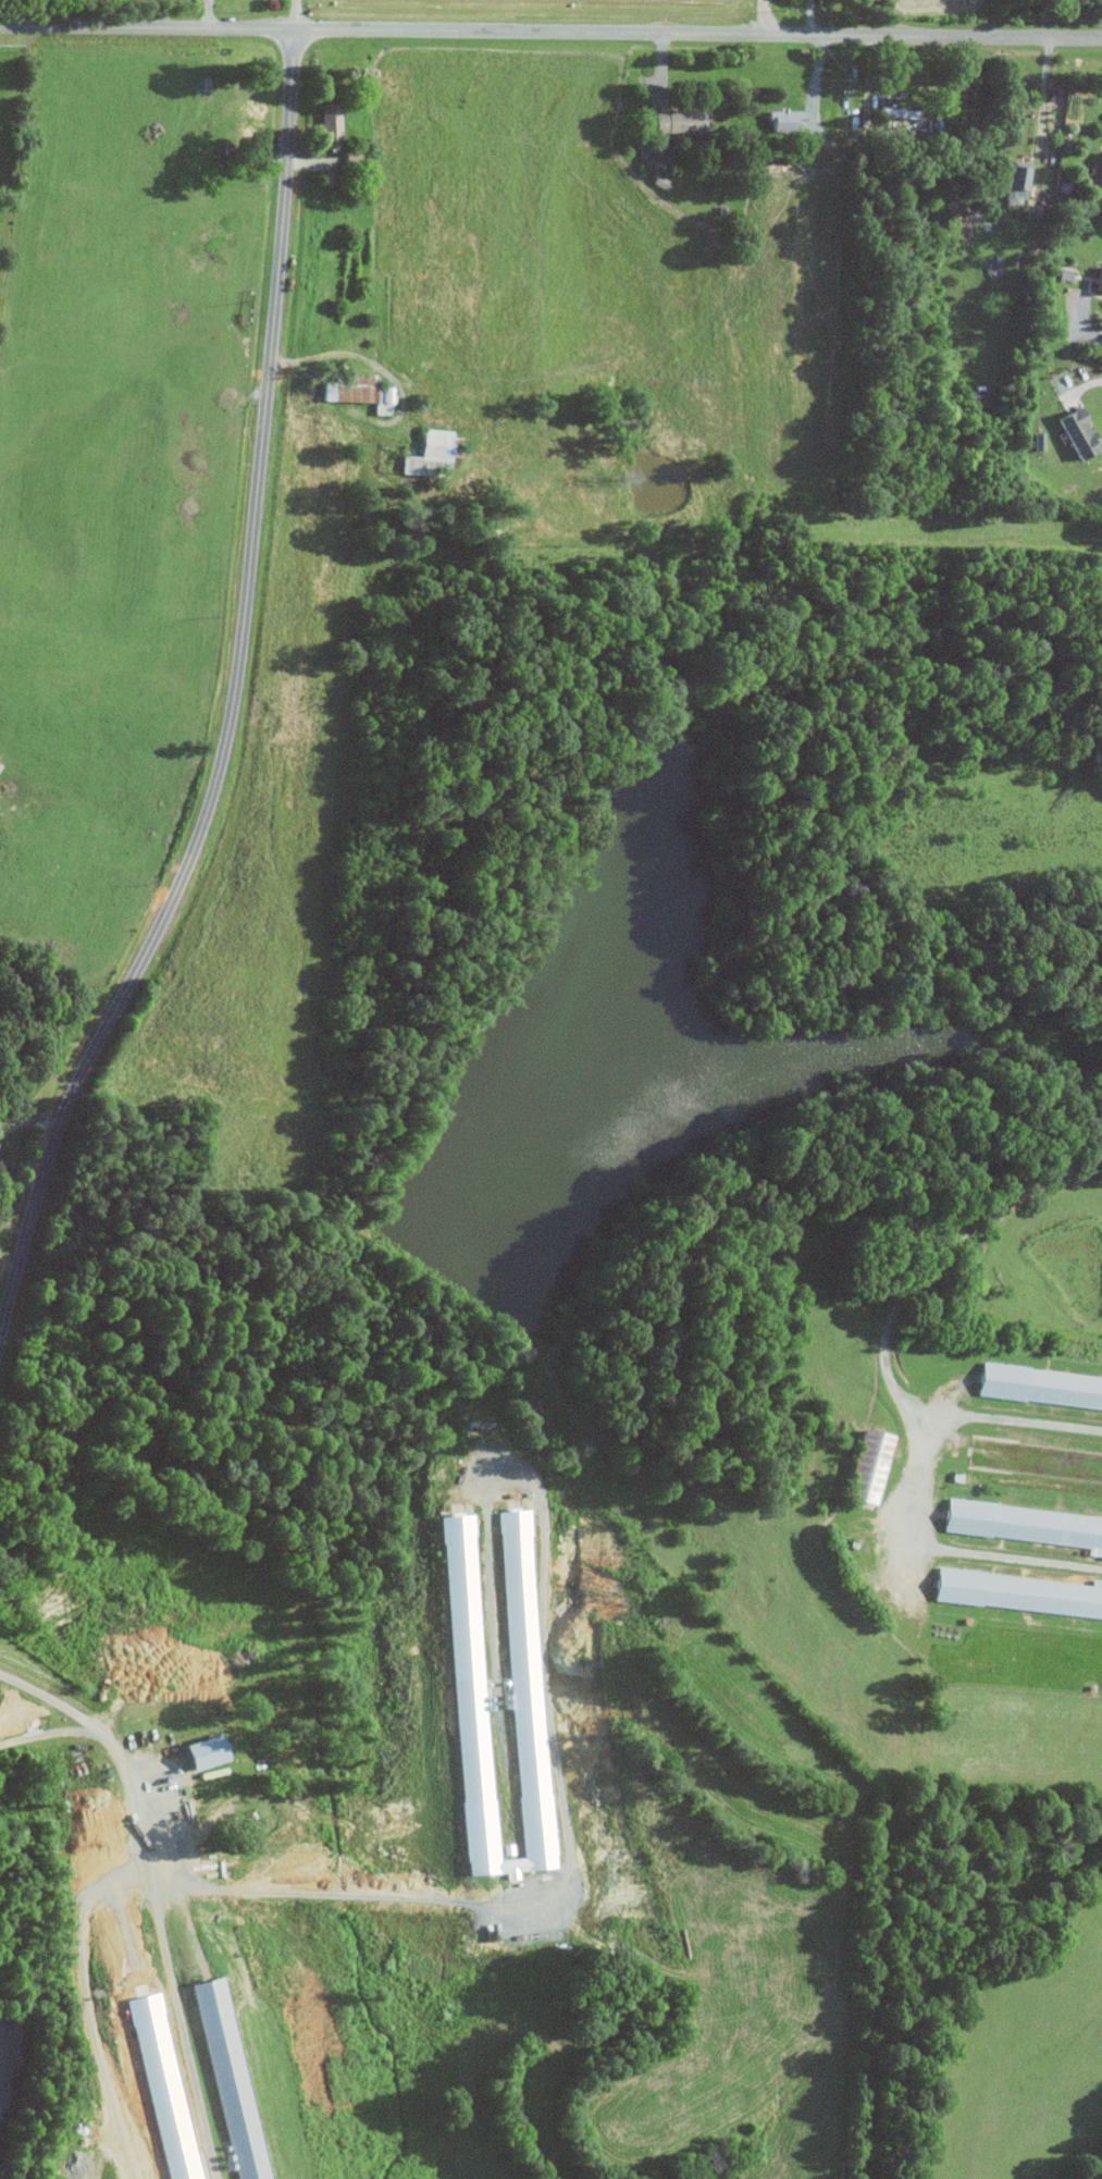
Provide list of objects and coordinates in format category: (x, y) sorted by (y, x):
road: (290, 14)
road: (764, 15)
road: (550, 29)
road: (817, 83)
road: (1043, 94)
building: (899, 115)
building: (783, 118)
building: (679, 122)
building: (329, 125)
building: (1099, 177)
building: (1015, 180)
road: (1082, 321)
road: (345, 353)
road: (1087, 385)
building: (357, 391)
building: (1077, 432)
building: (430, 453)
road: (231, 707)
road: (27, 1120)
road: (18, 1178)
road: (995, 1208)
road: (894, 1308)
building: (1039, 1387)
building: (866, 1465)
building: (1025, 1525)
road: (951, 1548)
building: (1018, 1592)
building: (465, 1685)
road: (53, 1700)
building: (200, 1751)
road: (559, 1769)
road: (239, 1888)
road: (342, 1894)
road: (153, 1903)
building: (230, 2078)

